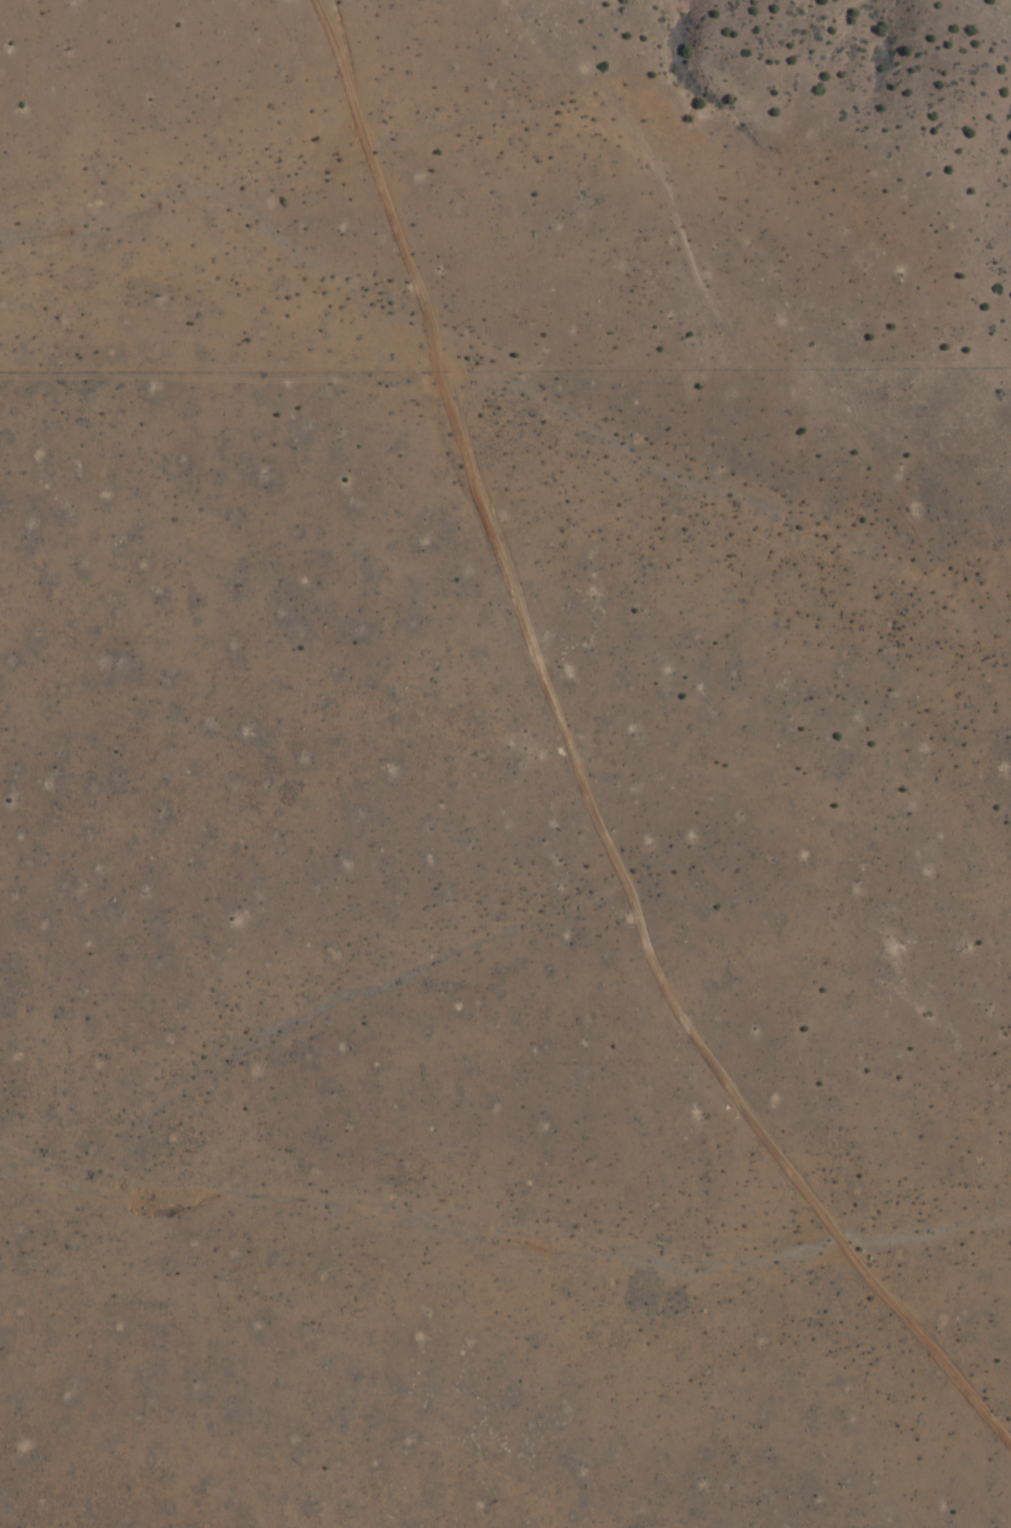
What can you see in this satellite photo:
road: (580, 765)

